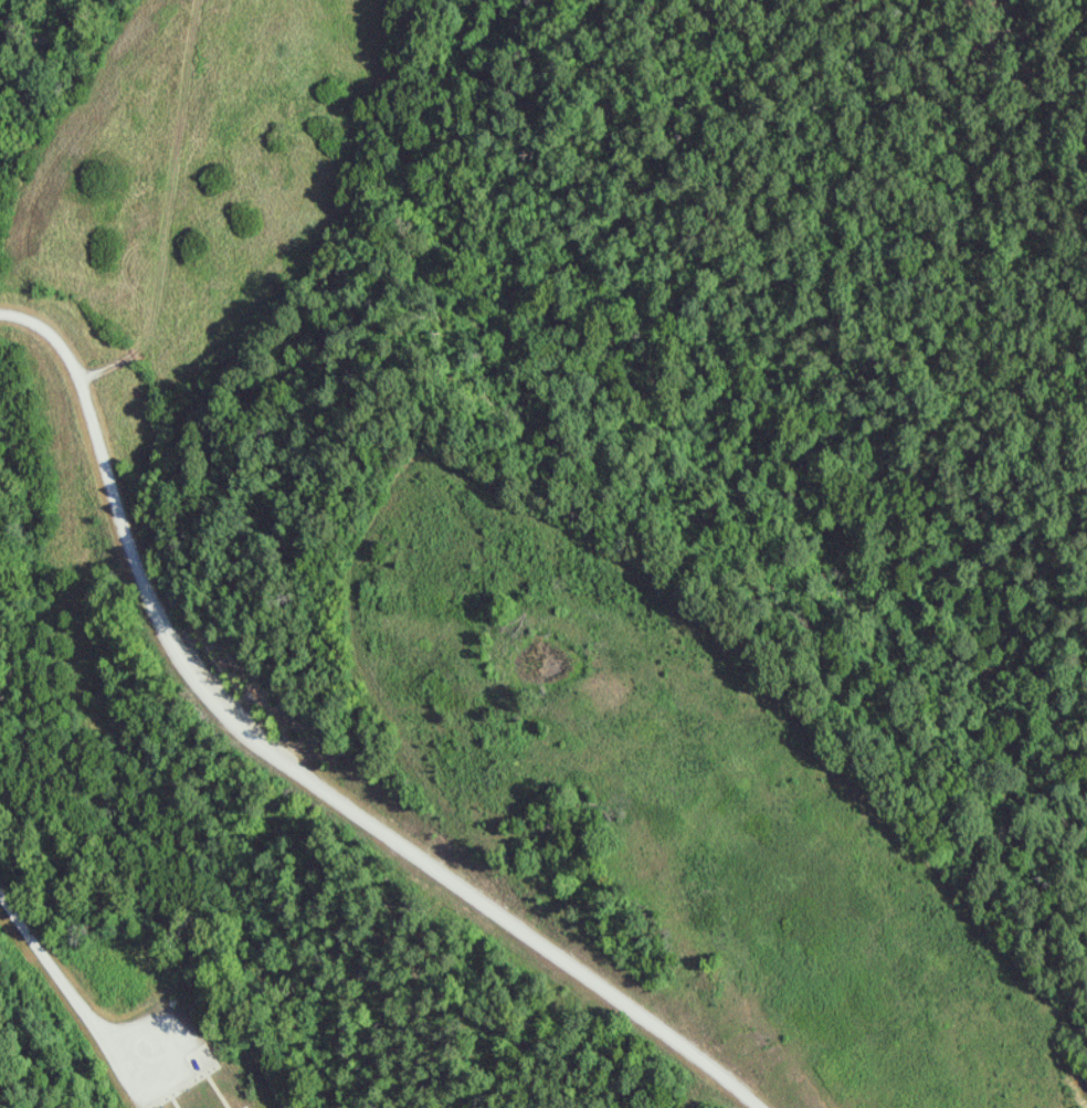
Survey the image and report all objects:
road: (165, 207)
road: (299, 770)
road: (55, 967)

